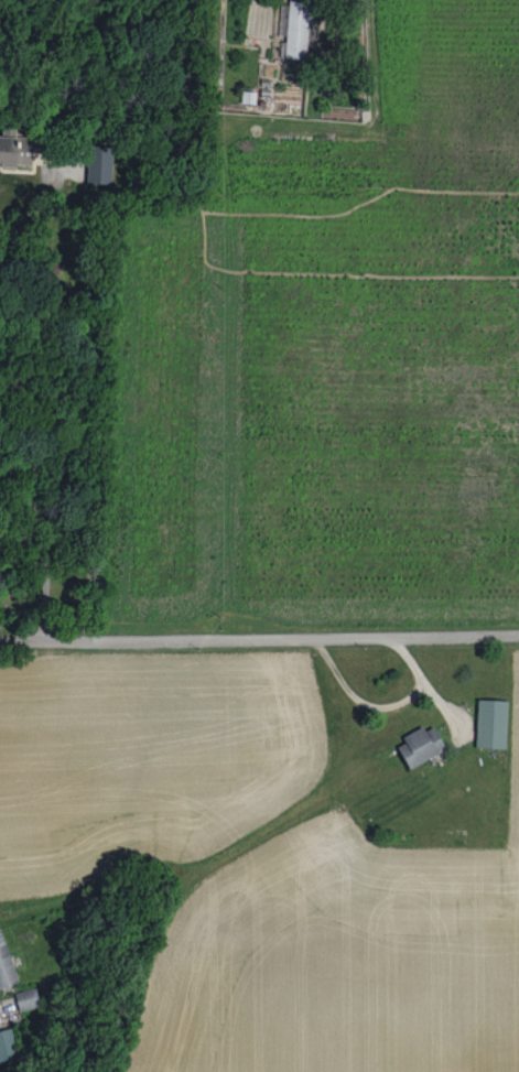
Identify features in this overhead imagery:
building: (295, 29)
building: (14, 149)
building: (98, 163)
road: (259, 635)
building: (490, 723)
building: (420, 745)
building: (6, 963)
building: (26, 998)
building: (7, 1043)

